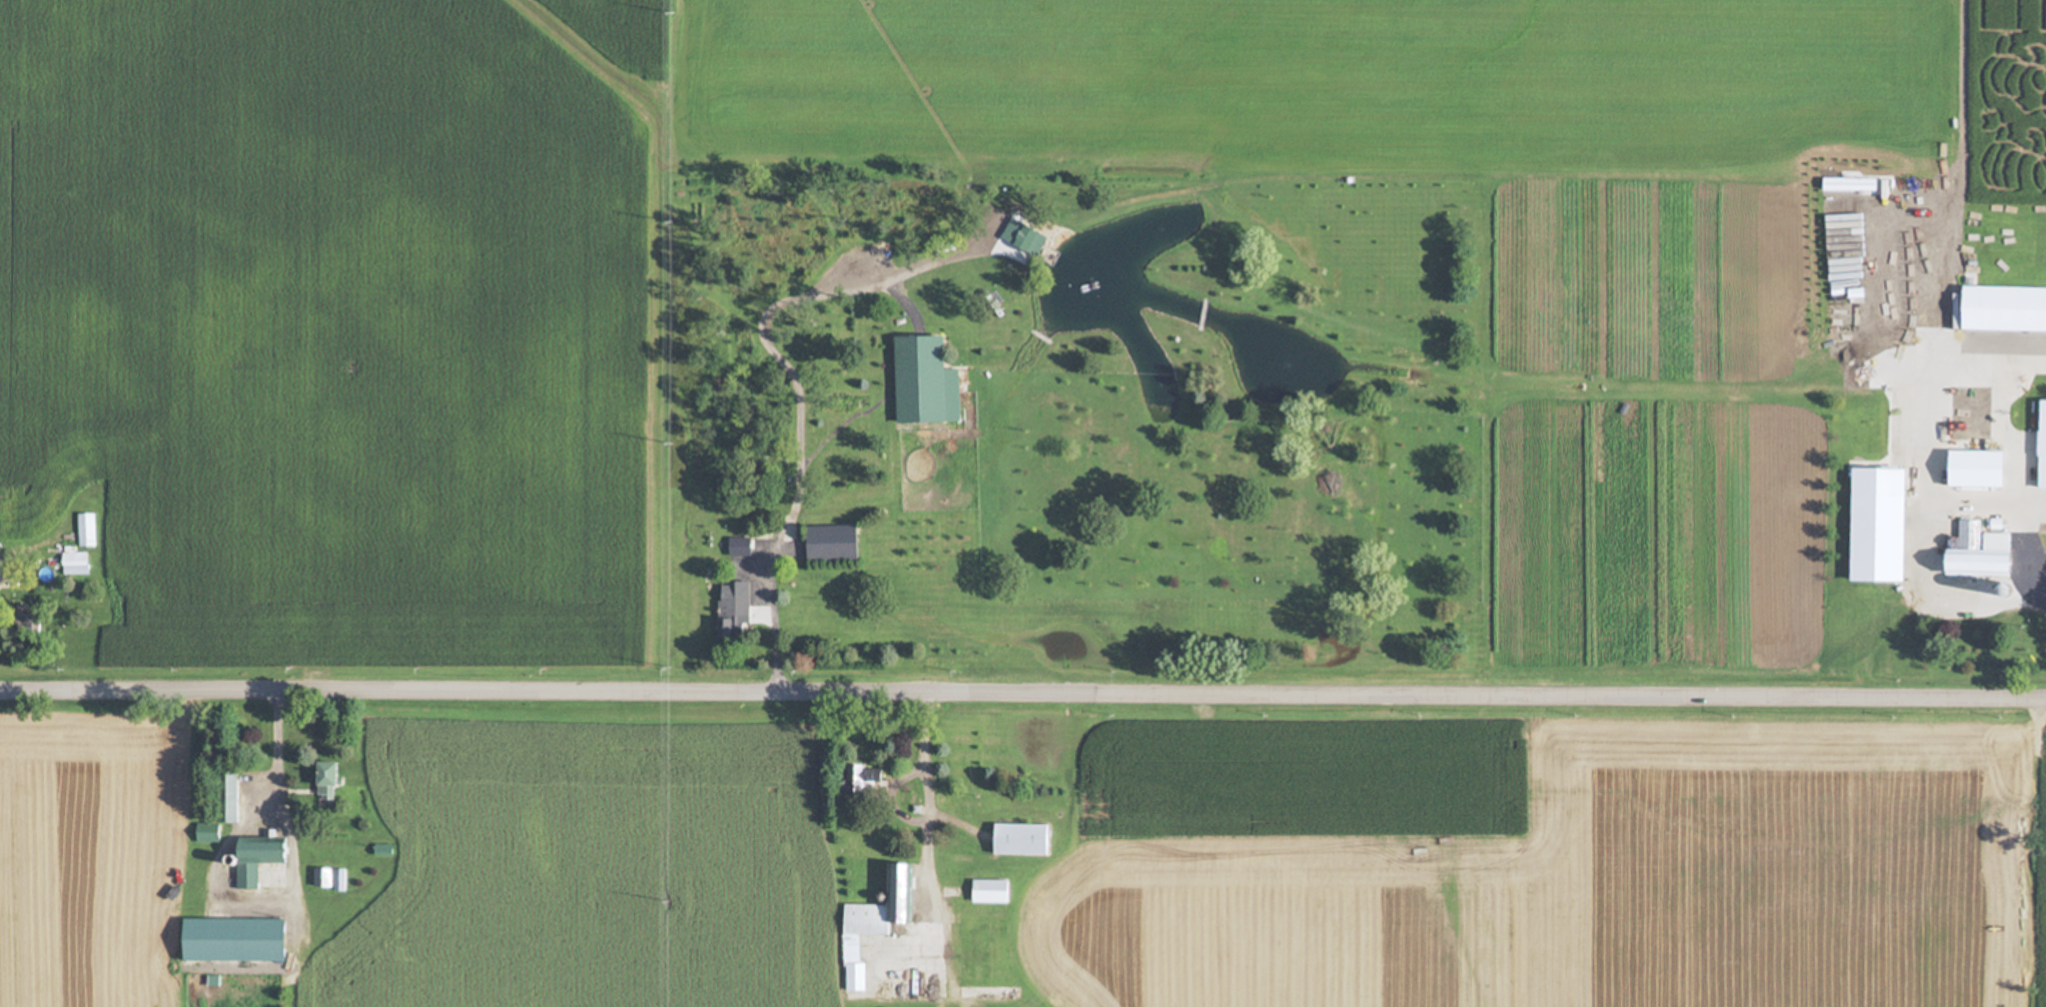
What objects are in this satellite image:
road: (1946, 223)
building: (2006, 309)
building: (925, 378)
road: (797, 412)
building: (2043, 447)
building: (1980, 471)
building: (25, 511)
building: (89, 529)
building: (1886, 529)
building: (135, 539)
building: (2000, 540)
building: (836, 542)
building: (741, 546)
building: (1982, 553)
building: (78, 559)
building: (1998, 589)
building: (732, 610)
road: (1022, 701)
building: (331, 778)
building: (867, 779)
building: (223, 807)
road: (918, 830)
building: (1024, 839)
building: (385, 849)
building: (260, 857)
building: (330, 878)
building: (992, 891)
building: (878, 920)
building: (237, 940)

